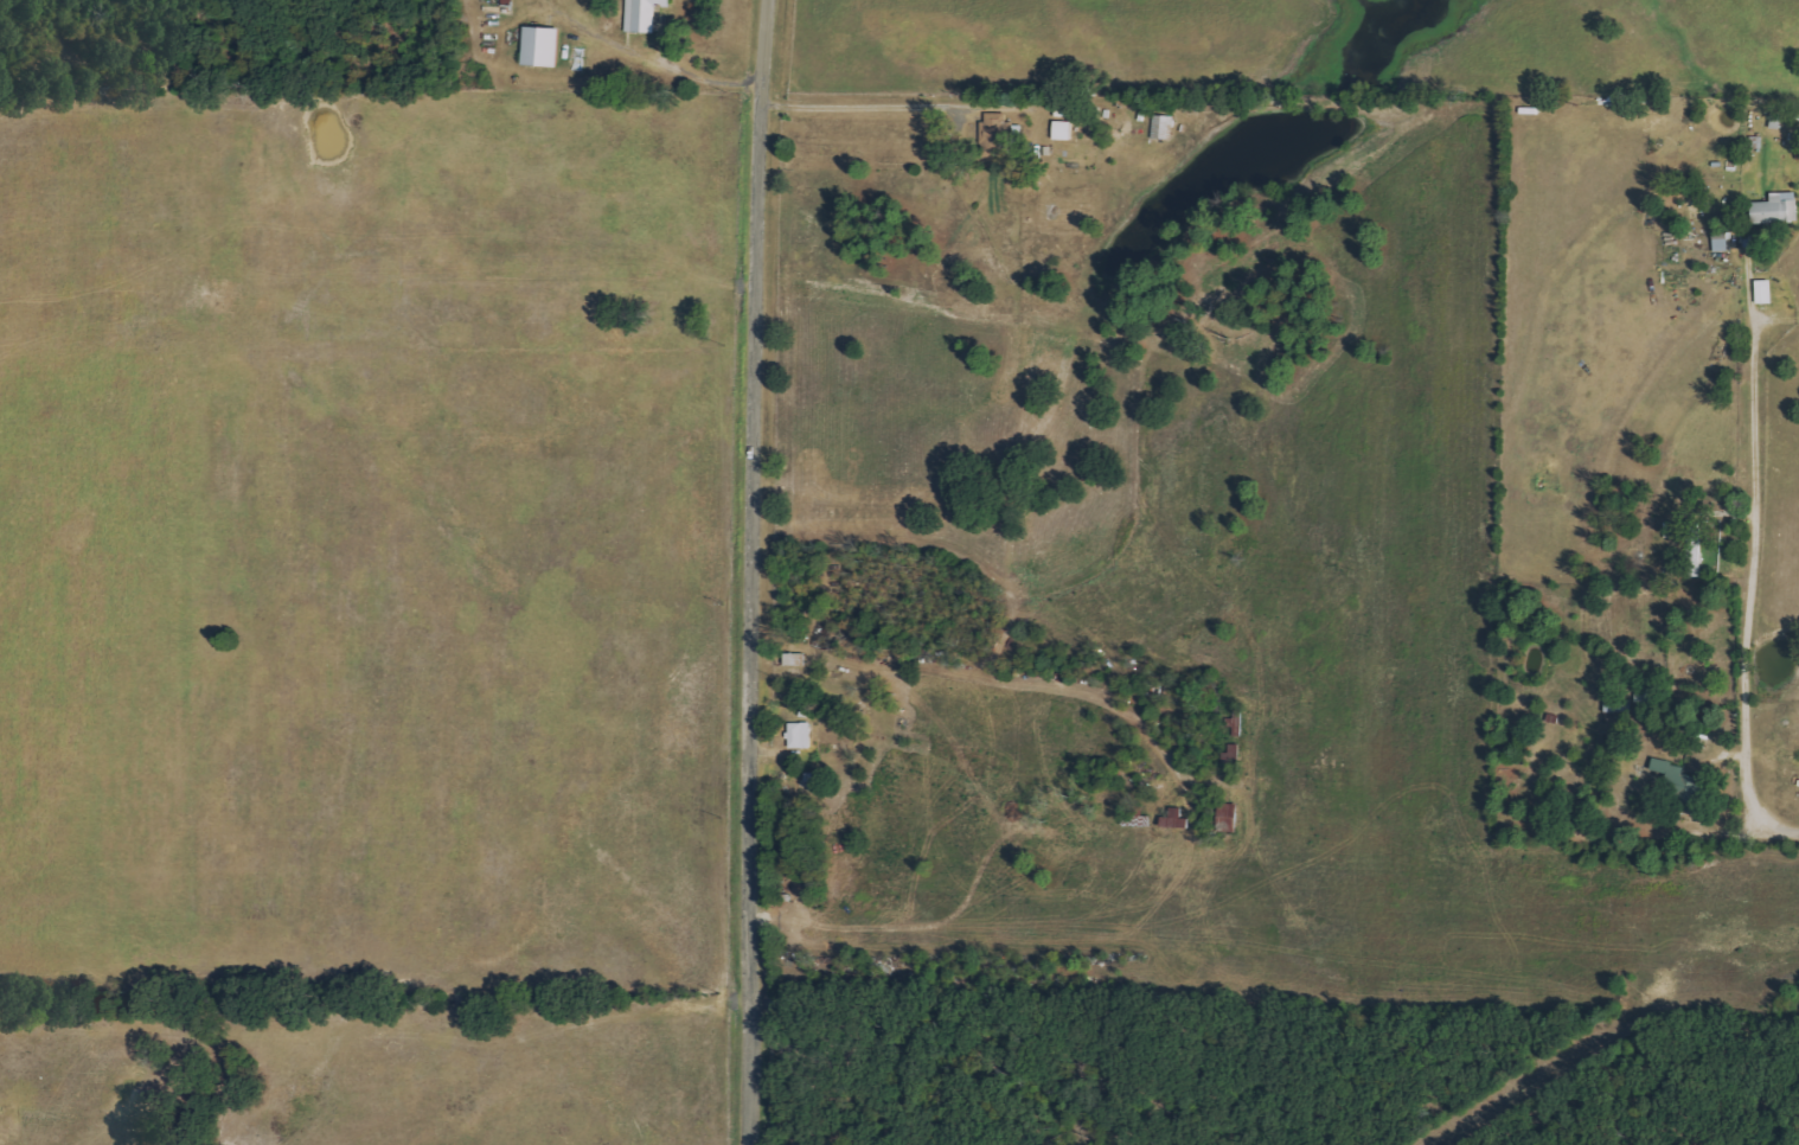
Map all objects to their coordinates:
building: (645, 14)
building: (543, 46)
road: (660, 62)
road: (870, 103)
building: (1776, 119)
building: (1064, 130)
building: (999, 135)
building: (1778, 209)
building: (1721, 243)
building: (1766, 292)
building: (1671, 530)
building: (1695, 549)
road: (757, 571)
road: (1753, 589)
building: (796, 659)
building: (801, 735)
building: (1683, 785)
building: (1230, 818)

